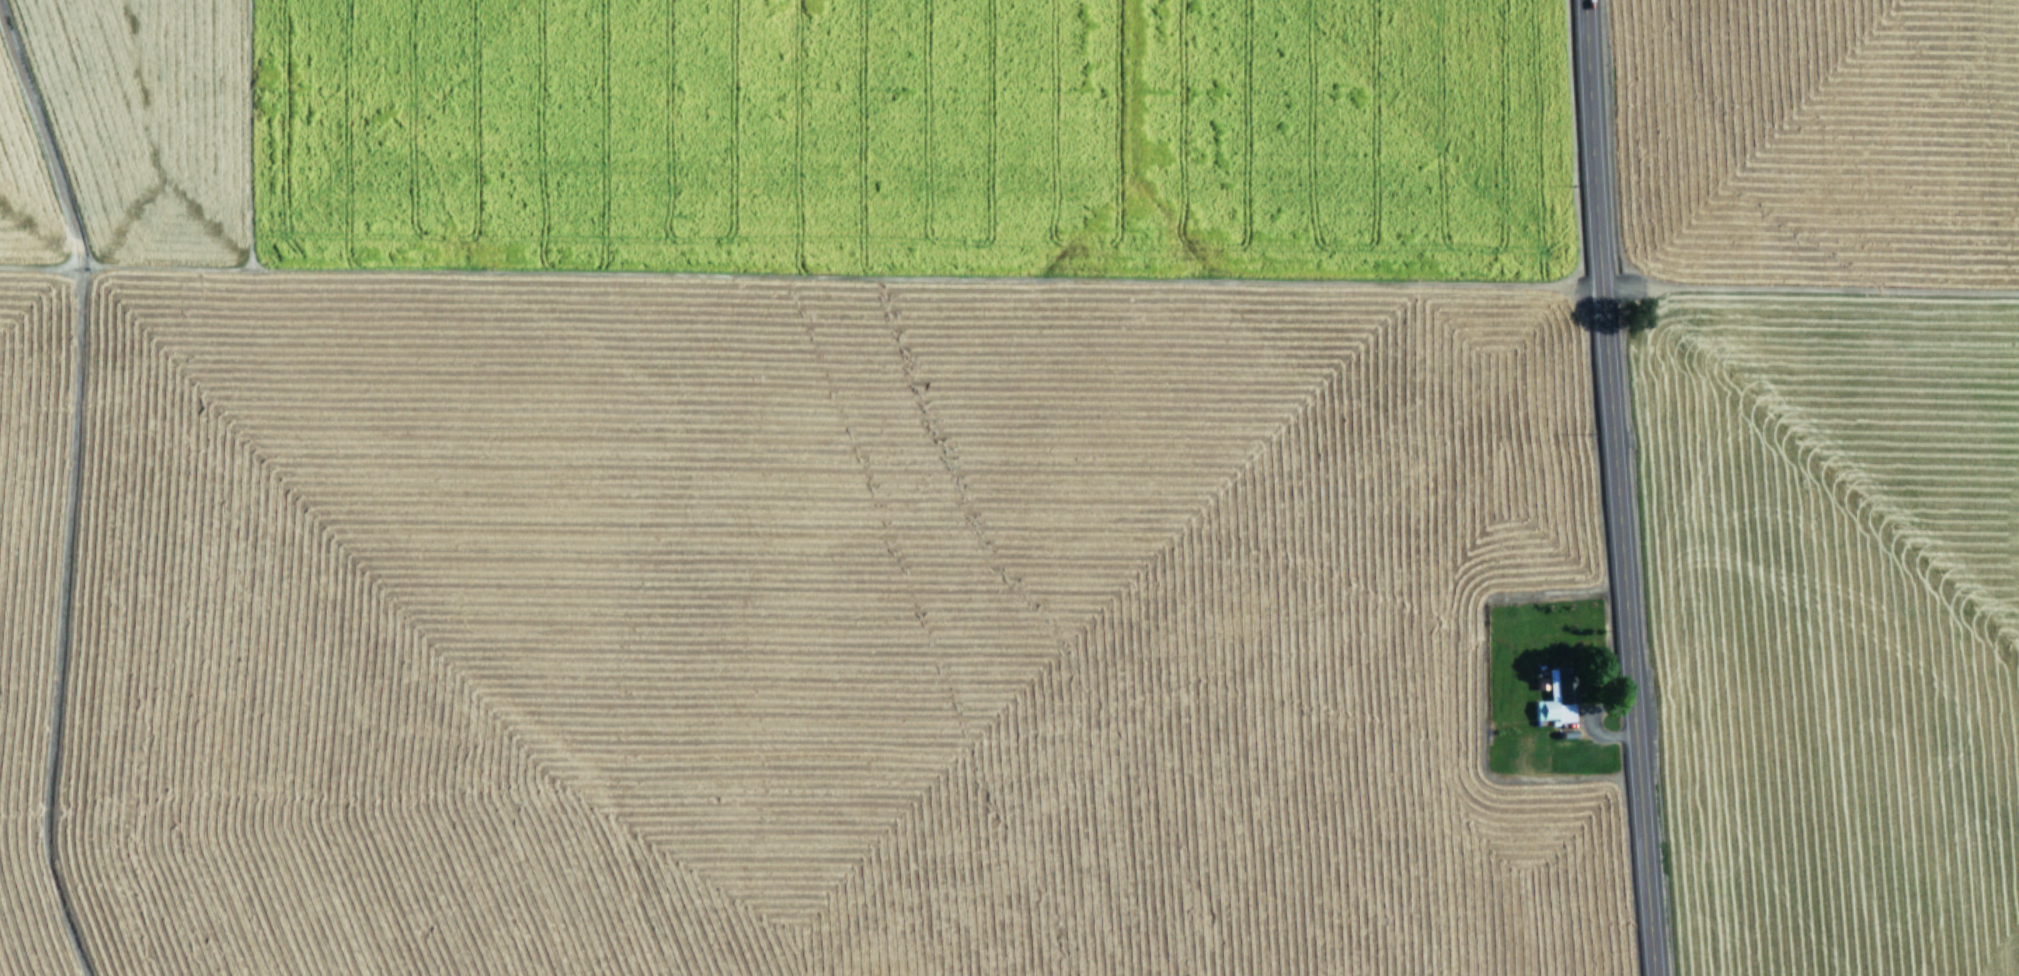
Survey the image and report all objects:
crop: (1829, 473)
road: (1610, 488)
crop: (793, 492)

